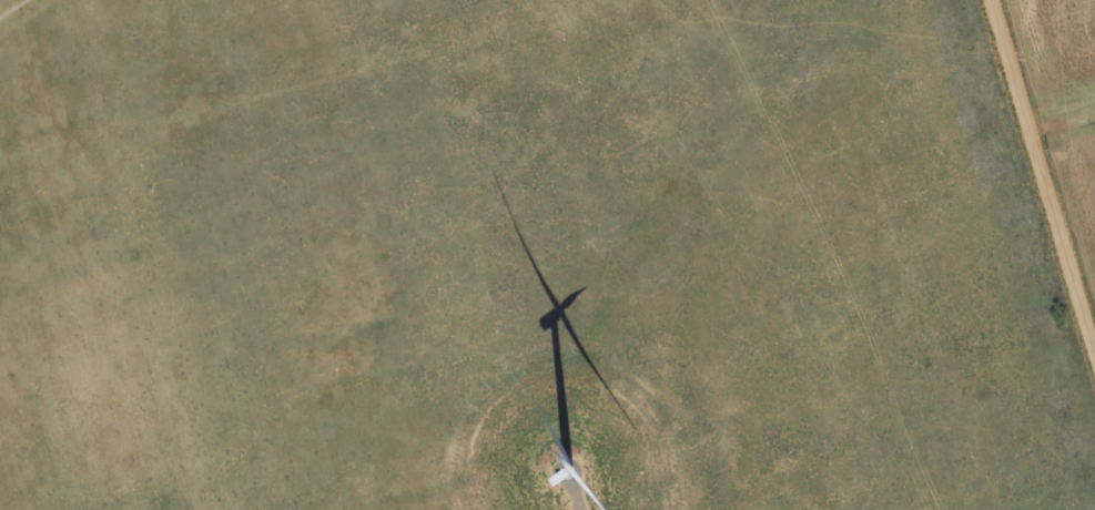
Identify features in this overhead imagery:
road: (1044, 173)
wind turbine: (568, 480)

